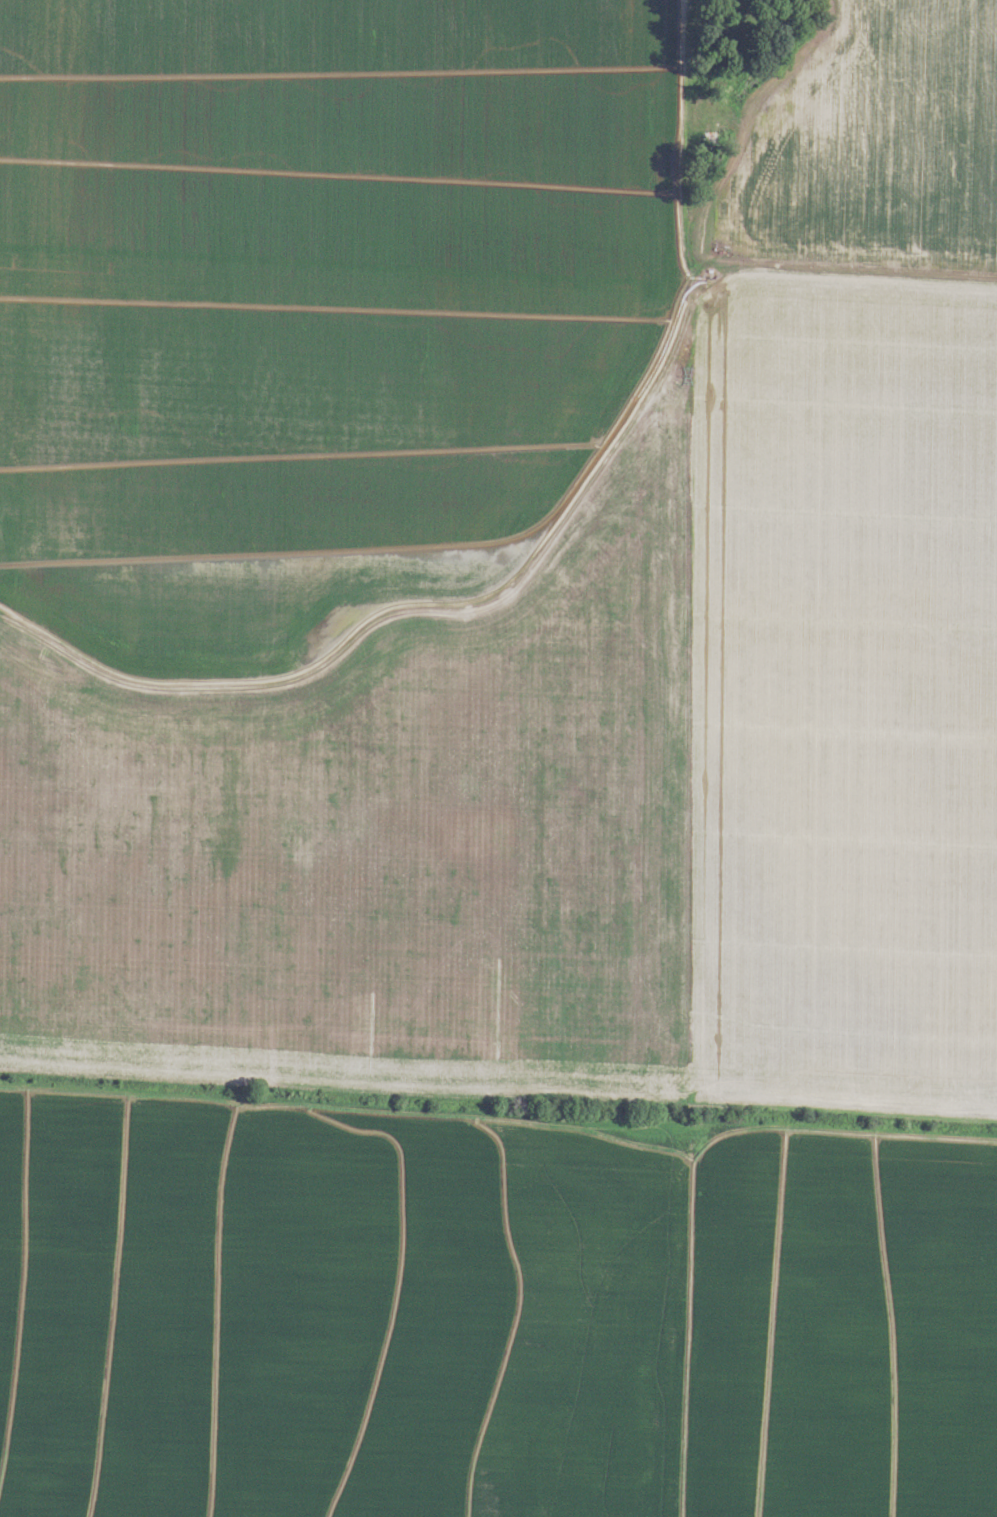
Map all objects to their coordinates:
road: (706, 251)

